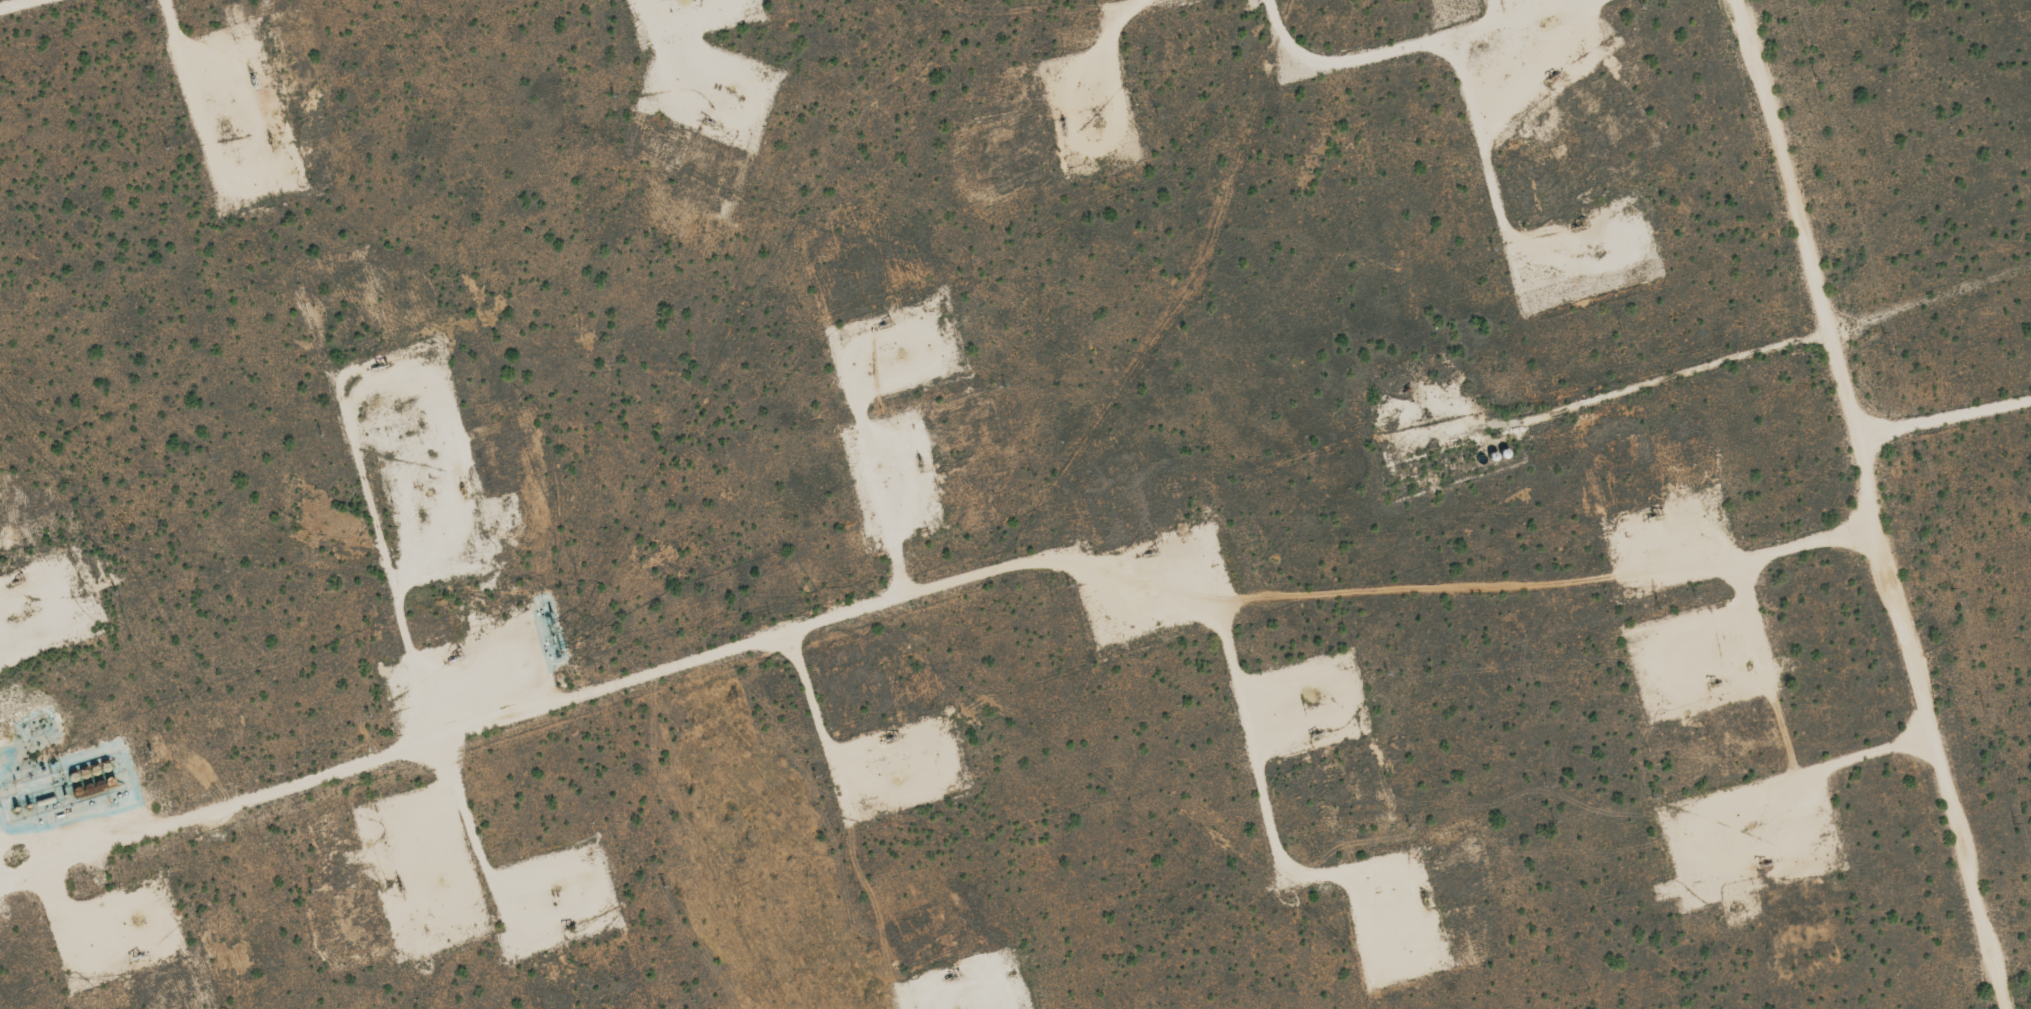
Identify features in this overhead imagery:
road: (1892, 504)

